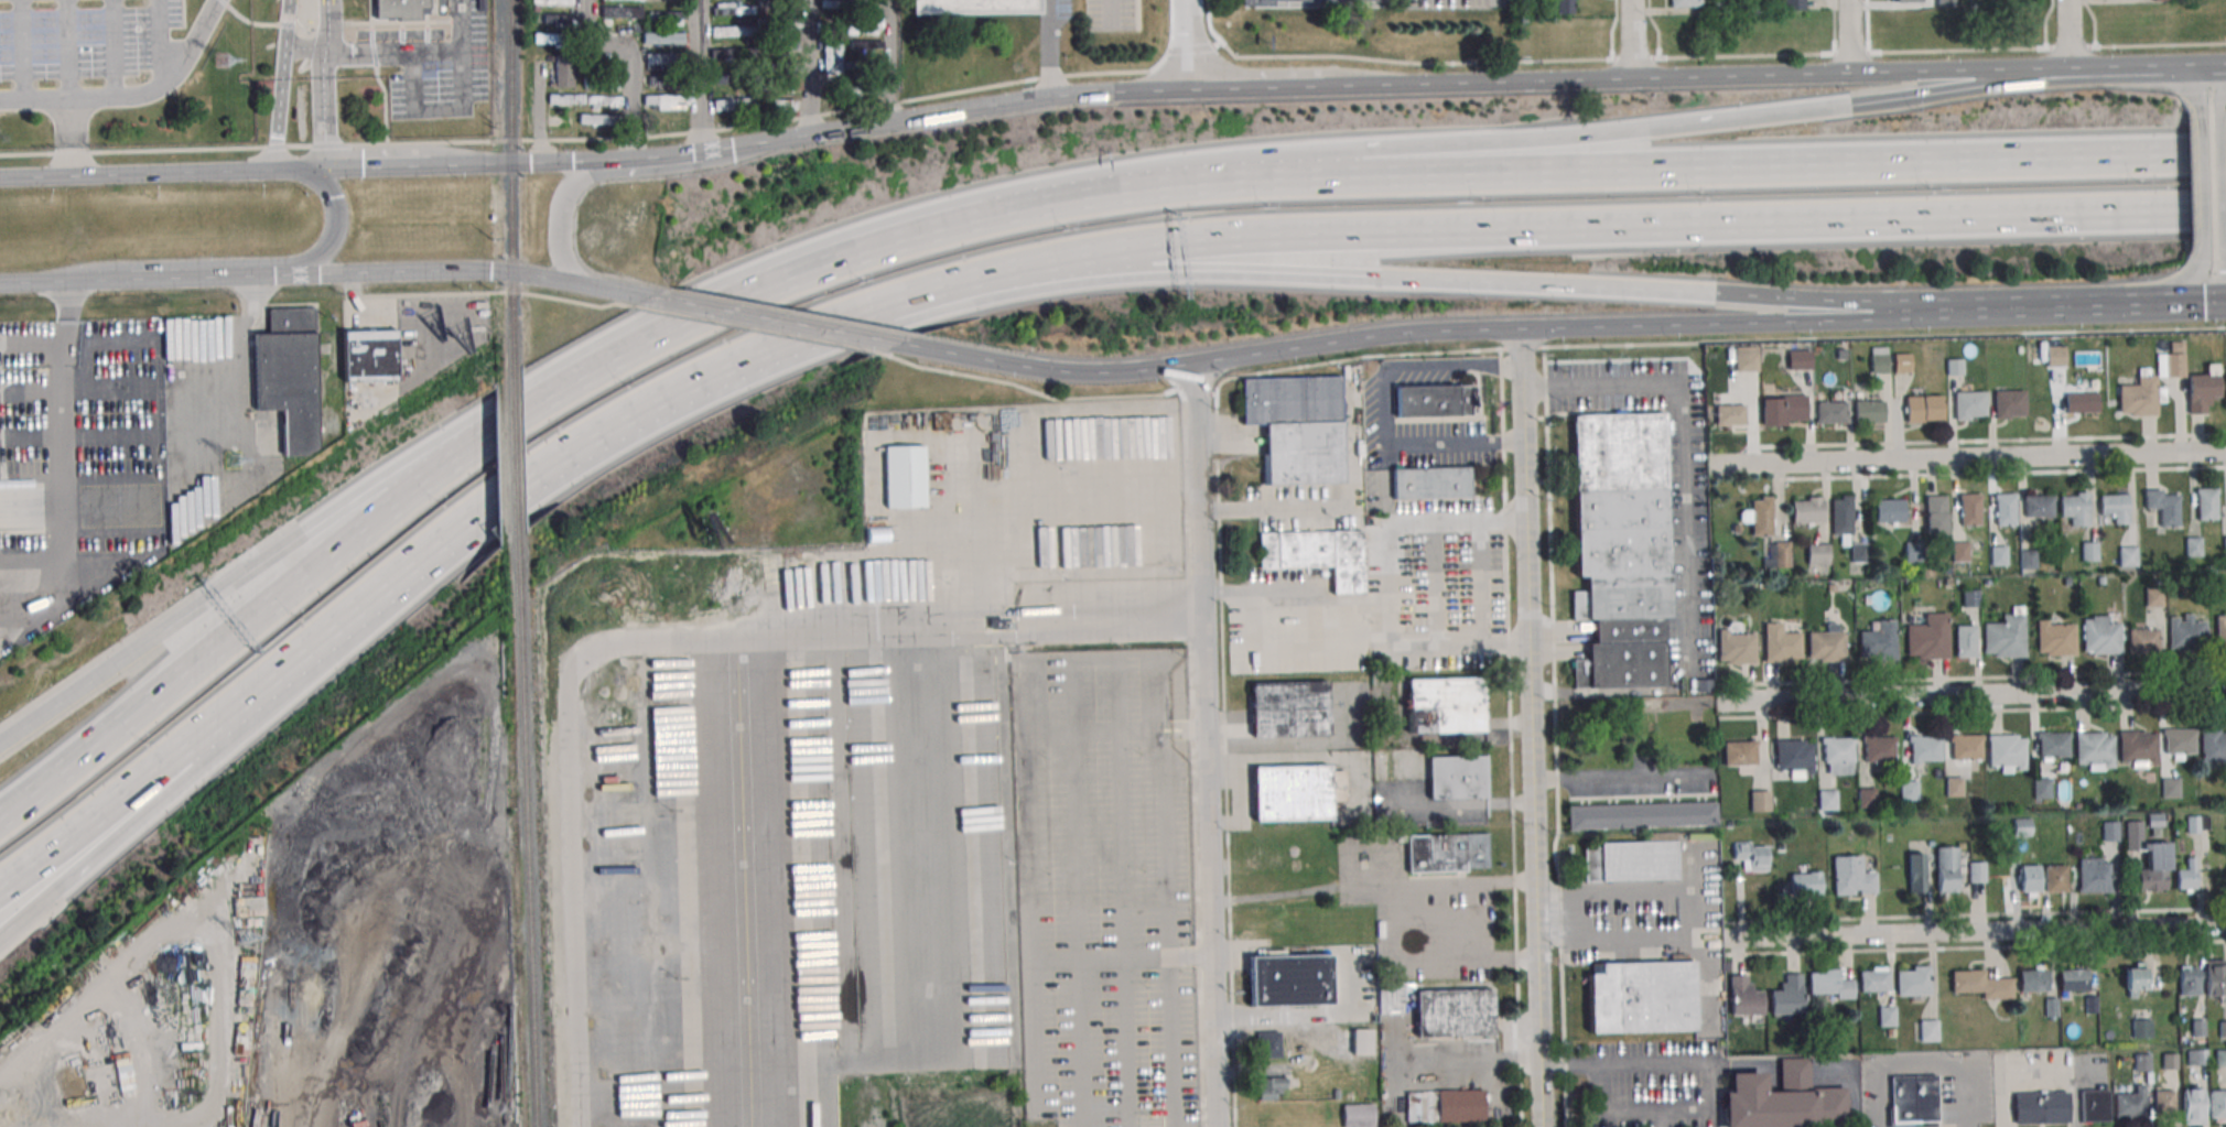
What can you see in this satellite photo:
building: (1904, 1)
road: (327, 2)
building: (551, 2)
building: (1685, 2)
building: (1945, 3)
building: (832, 4)
building: (1258, 4)
building: (1794, 4)
building: (986, 6)
building: (439, 7)
building: (1565, 7)
building: (733, 8)
building: (1723, 8)
building: (400, 9)
building: (622, 12)
road: (1110, 13)
building: (666, 18)
building: (555, 19)
building: (830, 20)
road: (2095, 22)
road: (1208, 23)
road: (2045, 23)
building: (864, 24)
road: (1868, 26)
road: (1834, 28)
road: (1656, 29)
building: (732, 30)
road: (1611, 30)
road: (2071, 34)
parking lot: (84, 37)
building: (547, 37)
building: (662, 37)
road: (1851, 37)
road: (159, 39)
road: (1632, 41)
building: (865, 44)
road: (1189, 45)
road: (306, 48)
road: (68, 50)
building: (732, 53)
road: (393, 54)
building: (831, 57)
road: (1719, 57)
building: (659, 58)
road: (895, 61)
power tower: (223, 62)
parking lot: (433, 63)
road: (630, 65)
road: (808, 66)
road: (2195, 68)
road: (2118, 69)
building: (563, 73)
road: (2028, 73)
road: (696, 76)
road: (1919, 76)
building: (733, 77)
road: (2175, 78)
road: (1743, 79)
building: (662, 80)
railway: (511, 82)
building: (785, 83)
road: (324, 84)
road: (282, 85)
road: (1482, 86)
road: (1261, 90)
road: (133, 96)
building: (584, 99)
road: (1041, 100)
building: (664, 101)
building: (735, 104)
building: (782, 104)
road: (462, 107)
road: (1817, 108)
road: (538, 113)
building: (597, 119)
road: (853, 129)
road: (71, 138)
road: (616, 140)
road: (1495, 141)
road: (737, 145)
road: (2193, 154)
road: (633, 159)
road: (554, 161)
road: (471, 164)
road: (1752, 164)
road: (379, 167)
road: (316, 169)
road: (290, 170)
road: (615, 173)
road: (137, 174)
road: (2220, 185)
road: (2197, 189)
road: (2184, 212)
road: (996, 215)
railway: (510, 217)
road: (1651, 225)
road: (1113, 253)
road: (227, 262)
road: (1024, 271)
road: (273, 274)
road: (553, 278)
road: (1403, 279)
road: (18, 282)
road: (950, 290)
road: (501, 292)
road: (624, 292)
road: (2161, 296)
road: (2184, 304)
road: (2016, 308)
road: (688, 317)
road: (778, 321)
railway: (511, 327)
road: (1541, 327)
road: (800, 338)
road: (33, 343)
road: (1535, 348)
building: (369, 355)
building: (2054, 355)
building: (1840, 356)
building: (1746, 358)
building: (1798, 359)
building: (1879, 359)
building: (1901, 361)
building: (2171, 361)
road: (1498, 366)
building: (1954, 366)
road: (1390, 367)
road: (1049, 369)
road: (722, 373)
building: (289, 376)
road: (564, 386)
building: (2202, 388)
building: (2140, 394)
building: (1436, 400)
building: (2081, 402)
building: (2008, 403)
building: (1968, 404)
building: (1781, 409)
building: (1924, 409)
building: (1869, 411)
building: (1831, 412)
building: (1729, 414)
building: (1298, 425)
road: (1987, 441)
road: (1350, 442)
road: (1413, 444)
road: (1681, 445)
power tower: (233, 460)
road: (1971, 462)
road: (435, 466)
railway: (515, 466)
road: (65, 468)
road: (2000, 473)
building: (906, 477)
building: (1431, 483)
road: (507, 500)
building: (2206, 505)
building: (2039, 507)
road: (1273, 508)
building: (2115, 508)
building: (2164, 508)
building: (2075, 509)
building: (1808, 510)
building: (1889, 510)
building: (1969, 510)
building: (2005, 510)
building: (1935, 513)
building: (1841, 514)
building: (1761, 517)
building: (873, 529)
building: (2225, 544)
building: (2192, 546)
building: (1620, 550)
building: (1859, 551)
building: (1959, 551)
building: (2088, 551)
building: (1817, 553)
building: (1914, 553)
building: (1319, 555)
building: (1776, 555)
building: (1998, 555)
building: (2127, 555)
building: (2028, 557)
building: (1946, 572)
building: (1948, 582)
building: (2066, 582)
building: (2100, 582)
building: (2200, 582)
road: (1434, 583)
road: (1481, 583)
building: (1986, 583)
road: (1390, 584)
building: (1831, 588)
building: (2153, 596)
building: (1970, 598)
road: (376, 600)
road: (1293, 604)
road: (197, 608)
road: (1003, 610)
road: (1121, 618)
building: (2220, 631)
building: (2187, 633)
road: (861, 635)
road: (1005, 636)
building: (2006, 636)
building: (2100, 636)
road: (670, 637)
building: (1928, 638)
building: (2055, 640)
building: (1879, 642)
building: (1965, 642)
building: (2143, 642)
road: (1370, 643)
building: (1781, 646)
road: (1295, 647)
building: (1826, 647)
building: (1737, 648)
road: (206, 659)
road: (1094, 660)
road: (1973, 679)
road: (1971, 692)
road: (1223, 697)
building: (1445, 704)
building: (1290, 708)
road: (1974, 711)
road: (1533, 727)
road: (1102, 732)
road: (1511, 738)
road: (1555, 738)
building: (2179, 741)
road: (1203, 745)
building: (2052, 746)
building: (2138, 747)
building: (2212, 747)
building: (1966, 748)
building: (1879, 749)
building: (1925, 749)
building: (2094, 750)
building: (2007, 751)
building: (1740, 754)
building: (1838, 755)
road: (1195, 757)
building: (1794, 757)
building: (1458, 777)
road: (1622, 779)
road: (140, 784)
building: (1953, 785)
building: (2041, 787)
building: (2169, 787)
building: (1909, 790)
road: (175, 791)
building: (1297, 791)
building: (1866, 797)
building: (1827, 800)
building: (1759, 801)
building: (1642, 817)
building: (1728, 824)
building: (2196, 824)
building: (2021, 827)
building: (2109, 831)
building: (2155, 833)
railway: (528, 838)
building: (1307, 841)
building: (1930, 843)
building: (1267, 852)
building: (1448, 852)
building: (1752, 857)
building: (2148, 857)
building: (1630, 861)
building: (1947, 871)
building: (1977, 873)
building: (1916, 875)
building: (2187, 876)
building: (1851, 877)
building: (2094, 877)
building: (2055, 879)
building: (2030, 880)
building: (1805, 886)
parking lot: (1109, 889)
road: (1306, 889)
road: (1621, 891)
road: (1977, 914)
road: (28, 915)
road: (1406, 925)
road: (1976, 932)
road: (1642, 938)
power tower: (246, 939)
road: (1977, 947)
road: (1101, 958)
building: (2136, 979)
building: (2215, 979)
building: (1874, 980)
building: (2034, 980)
building: (2074, 980)
road: (1349, 982)
building: (2189, 982)
building: (1290, 983)
building: (1914, 983)
building: (1831, 985)
building: (1981, 986)
building: (1787, 997)
building: (1642, 998)
building: (1744, 999)
building: (2090, 1006)
building: (2052, 1010)
building: (1455, 1015)
road: (1233, 1016)
building: (1887, 1016)
building: (2141, 1028)
building: (2198, 1028)
building: (2223, 1029)
building: (1928, 1031)
building: (1362, 1043)
building: (1268, 1047)
building: (2195, 1056)
building: (2220, 1058)
road: (1684, 1061)
building: (2141, 1061)
building: (2170, 1062)
road: (1925, 1064)
road: (1447, 1068)
road: (2027, 1074)
road: (1234, 1077)
building: (1271, 1088)
building: (1783, 1099)
building: (1915, 1099)
road: (2076, 1101)
building: (2217, 1104)
building: (2163, 1105)
building: (2131, 1106)
building: (2192, 1106)
building: (1461, 1107)
building: (2095, 1107)
road: (1607, 1109)
building: (2041, 1109)
building: (1359, 1116)

